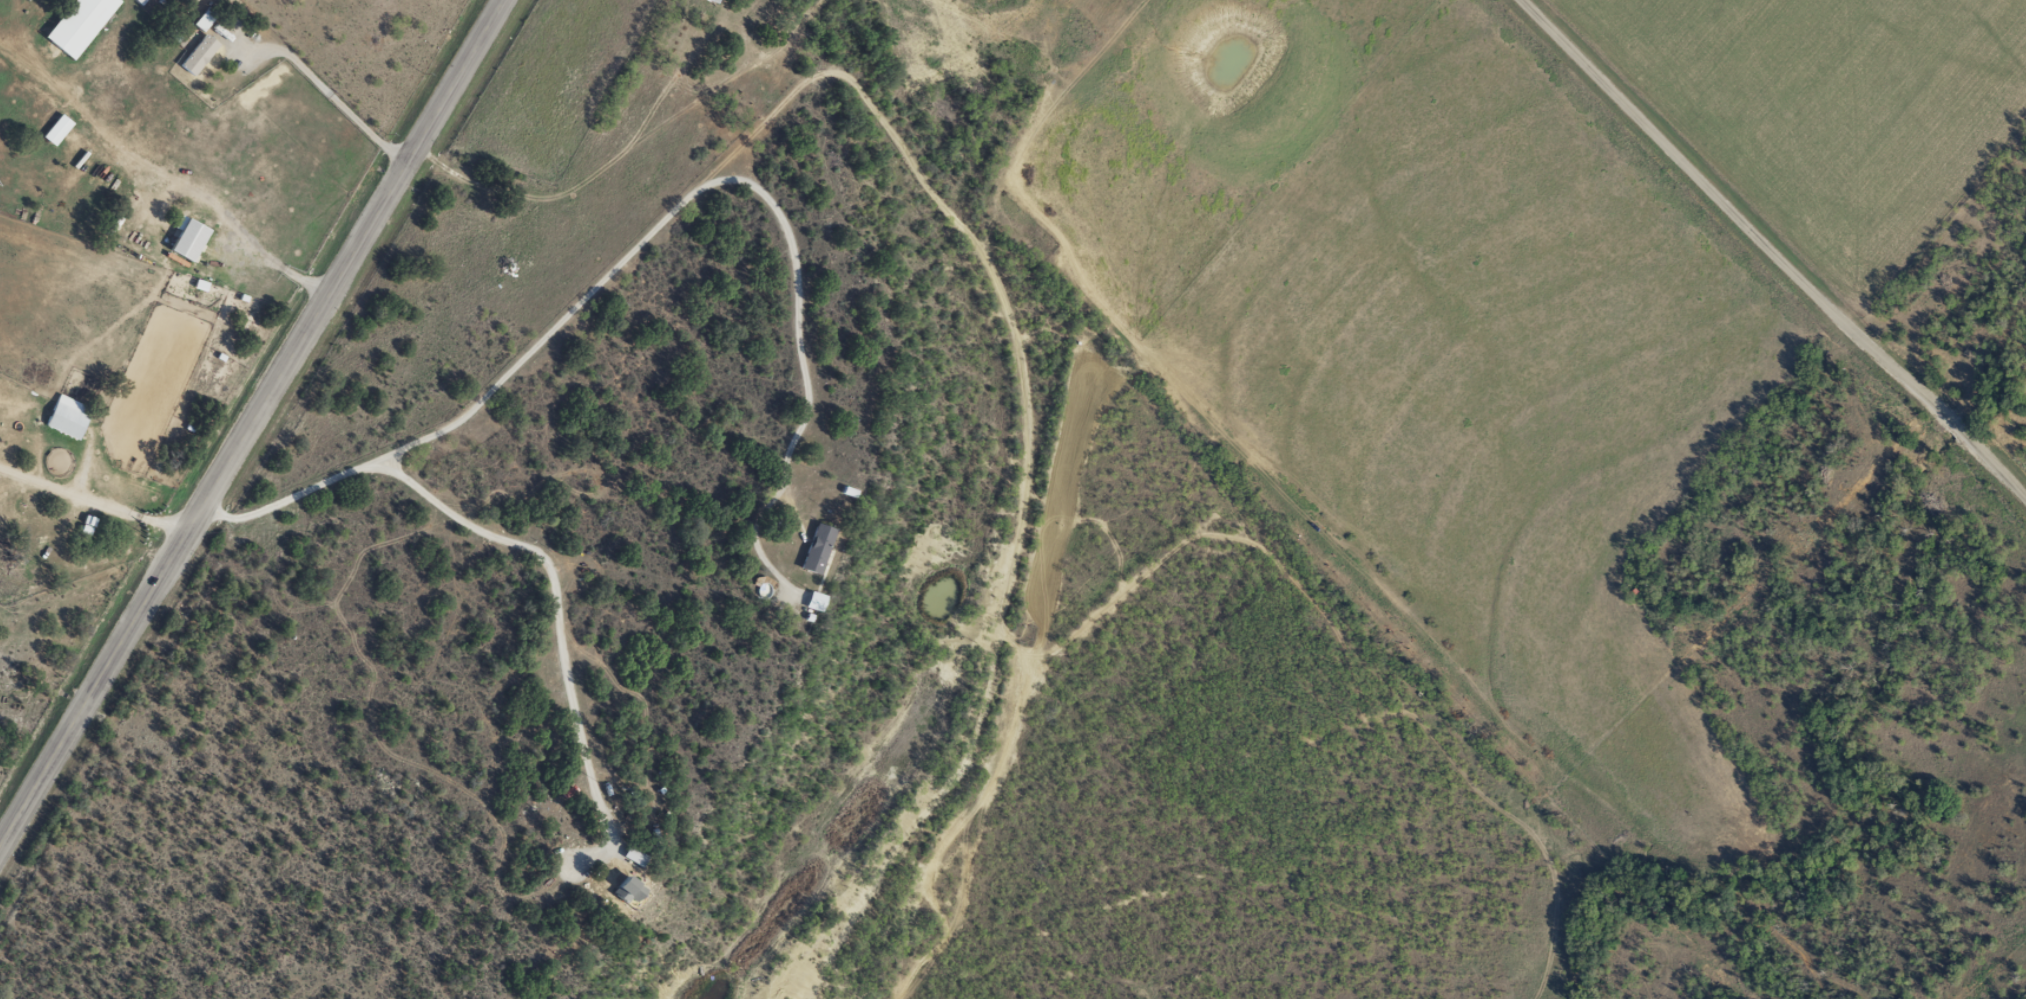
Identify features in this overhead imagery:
building: (718, 1)
building: (204, 18)
building: (78, 25)
building: (198, 54)
building: (56, 128)
road: (544, 195)
road: (895, 203)
building: (187, 238)
road: (1754, 271)
building: (67, 417)
road: (251, 423)
building: (0, 508)
building: (820, 548)
building: (819, 601)
building: (636, 857)
building: (632, 890)

